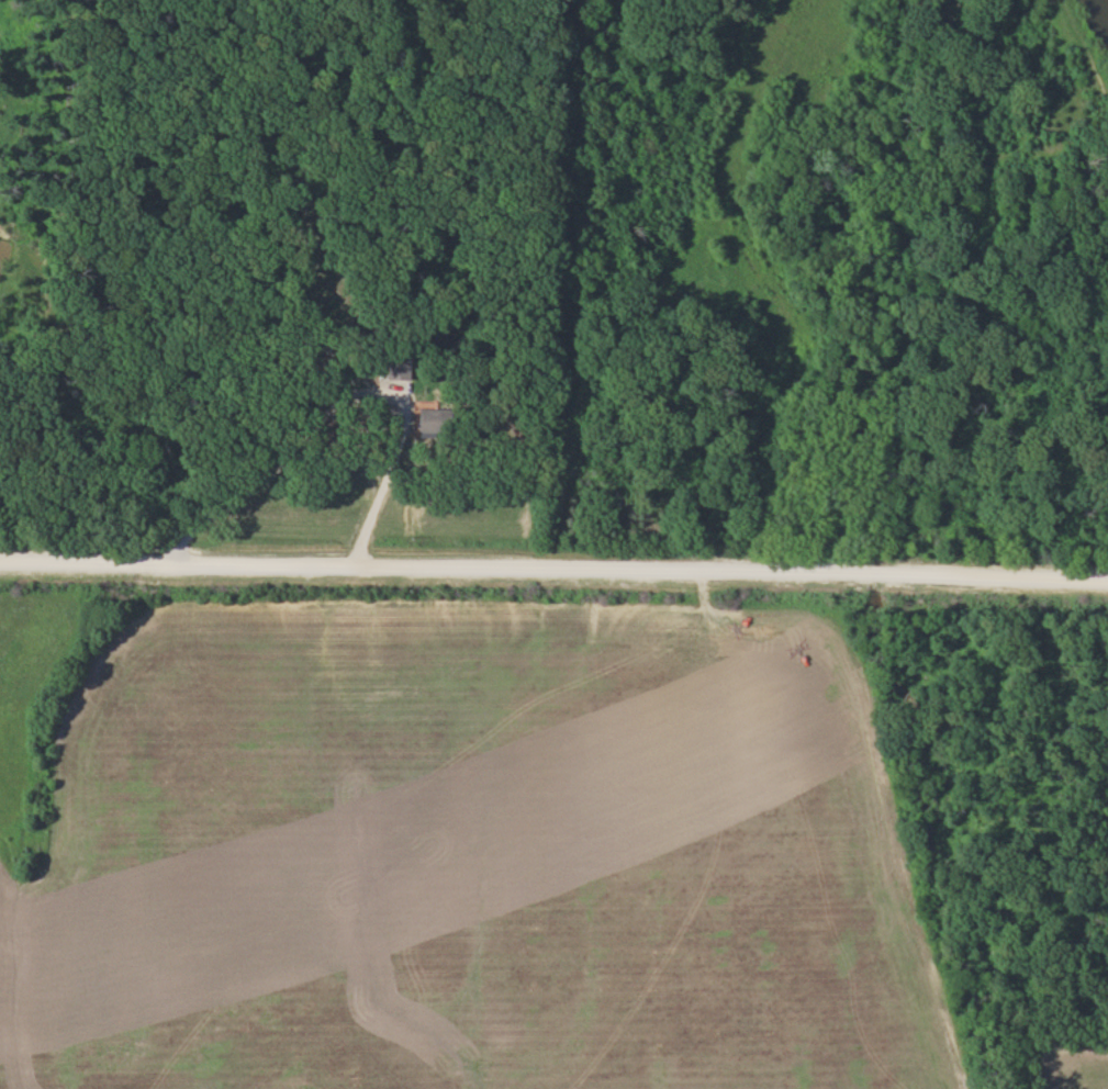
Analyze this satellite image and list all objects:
building: (396, 368)
road: (335, 402)
building: (427, 422)
road: (553, 566)

